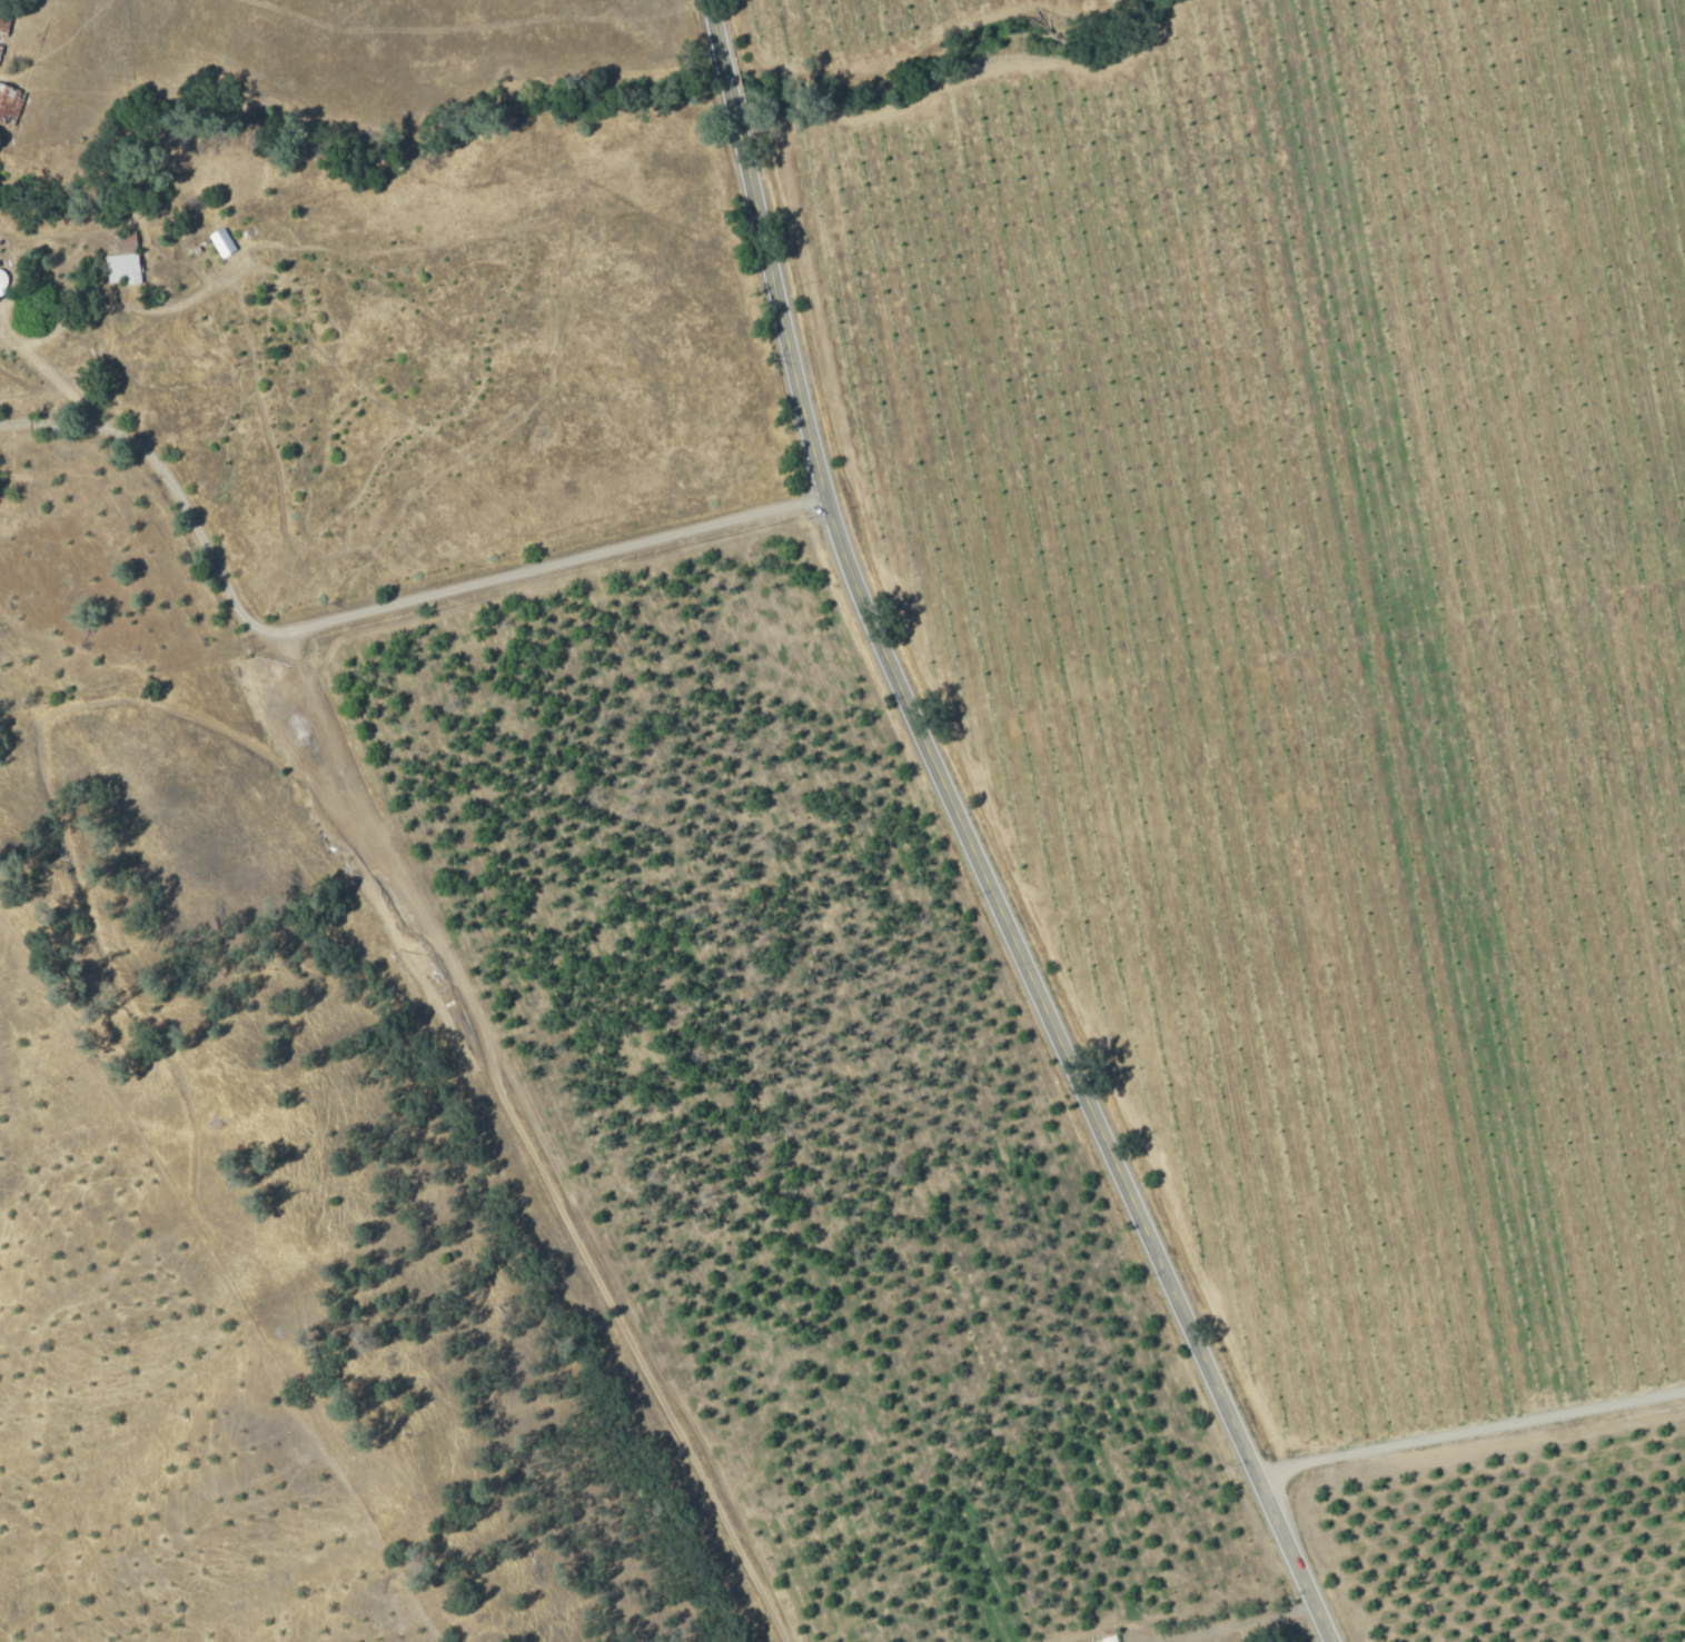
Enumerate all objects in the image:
road: (715, 26)
road: (728, 83)
building: (125, 267)
road: (70, 318)
road: (367, 614)
road: (997, 890)
road: (1474, 1432)
road: (1238, 1623)

